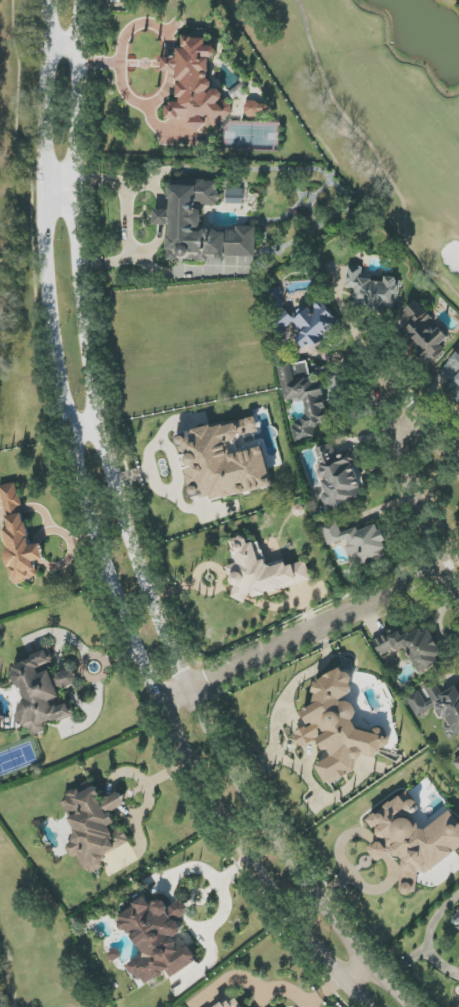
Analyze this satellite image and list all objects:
road: (125, 37)
road: (65, 48)
road: (171, 65)
building: (196, 86)
road: (141, 105)
park: (377, 107)
building: (253, 109)
road: (128, 182)
road: (61, 194)
building: (235, 196)
road: (162, 218)
building: (201, 226)
park: (17, 232)
road: (128, 258)
building: (372, 290)
building: (312, 325)
building: (423, 334)
building: (453, 374)
building: (305, 398)
road: (385, 420)
road: (81, 433)
building: (223, 462)
building: (339, 476)
building: (19, 537)
road: (96, 539)
road: (127, 541)
building: (359, 543)
building: (261, 572)
road: (299, 636)
building: (413, 648)
building: (67, 678)
building: (39, 694)
building: (440, 706)
building: (339, 728)
building: (456, 763)
building: (94, 827)
building: (414, 840)
road: (222, 890)
building: (456, 919)
building: (157, 939)
park: (37, 941)
road: (427, 941)
road: (439, 963)
road: (354, 971)
building: (231, 1002)

